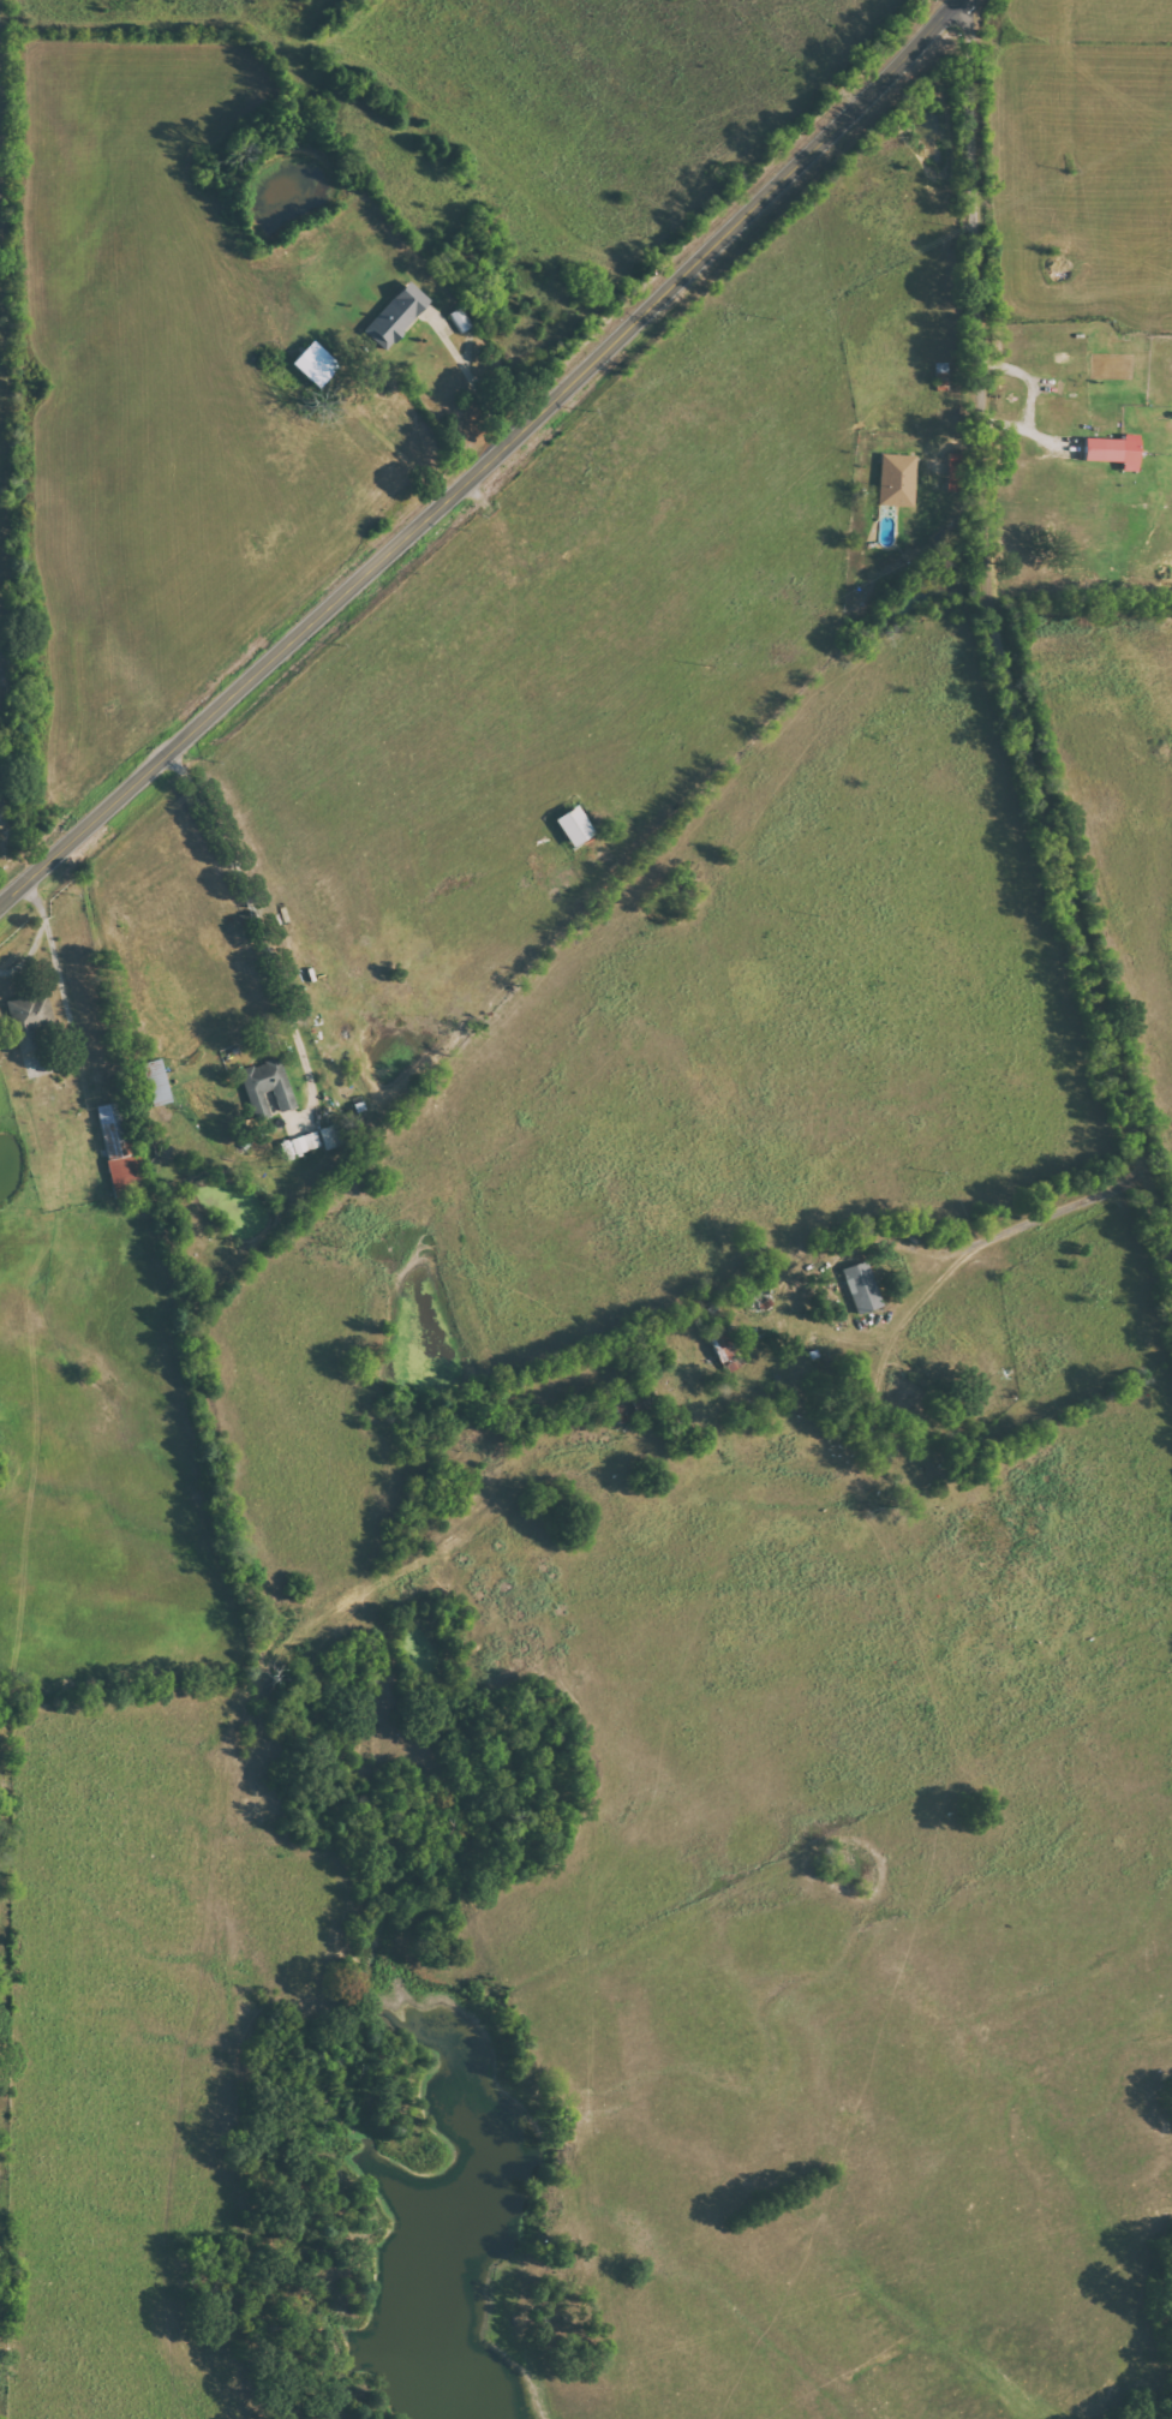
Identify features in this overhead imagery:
building: (395, 315)
building: (459, 319)
building: (313, 363)
road: (471, 378)
building: (1112, 450)
road: (490, 459)
building: (896, 479)
road: (1015, 639)
building: (573, 826)
road: (261, 925)
road: (37, 931)
road: (53, 960)
building: (28, 1017)
building: (155, 1082)
building: (267, 1085)
building: (317, 1140)
road: (908, 1243)
road: (951, 1264)
building: (861, 1288)
building: (723, 1342)

